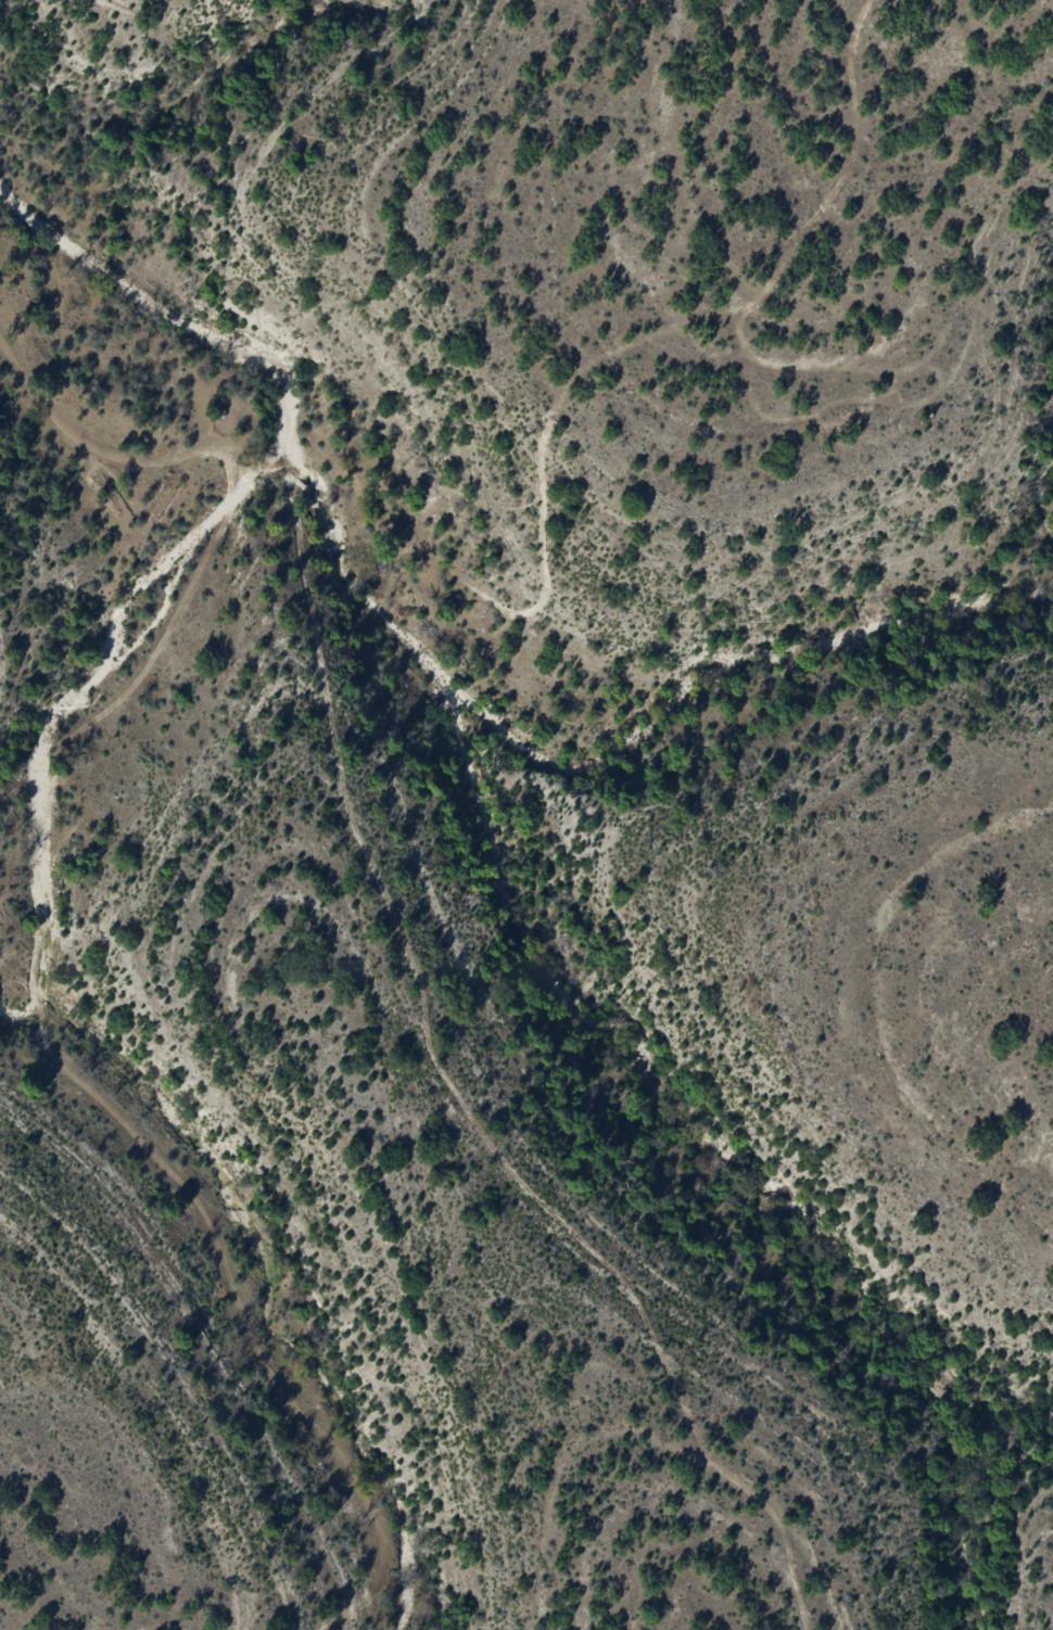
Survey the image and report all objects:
road: (5, 259)

